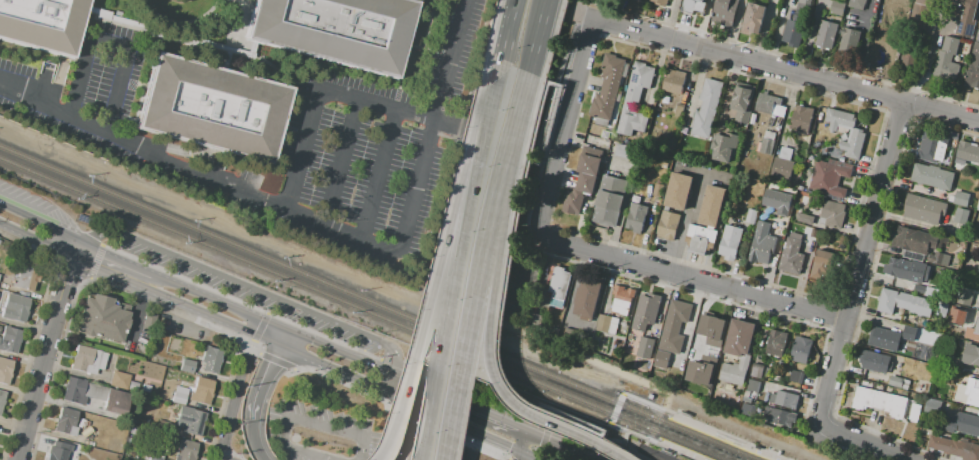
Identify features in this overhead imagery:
building: (659, 2)
building: (858, 4)
building: (803, 5)
building: (697, 6)
building: (837, 6)
building: (725, 12)
road: (576, 15)
building: (921, 15)
building: (753, 18)
building: (967, 18)
building: (883, 21)
building: (978, 21)
road: (177, 23)
building: (42, 24)
building: (896, 29)
building: (336, 30)
road: (232, 31)
building: (793, 32)
road: (512, 33)
road: (542, 35)
building: (826, 35)
building: (977, 36)
building: (849, 40)
road: (203, 41)
road: (111, 43)
building: (879, 52)
road: (859, 53)
building: (910, 54)
building: (947, 60)
road: (928, 64)
building: (973, 69)
building: (612, 72)
road: (786, 72)
building: (674, 81)
building: (635, 100)
building: (743, 101)
building: (767, 102)
building: (604, 104)
building: (680, 106)
building: (212, 108)
road: (548, 108)
building: (707, 109)
road: (414, 110)
road: (520, 112)
building: (801, 119)
road: (491, 120)
road: (567, 129)
building: (857, 136)
road: (521, 140)
building: (767, 142)
building: (816, 144)
building: (724, 147)
building: (931, 147)
building: (800, 149)
building: (625, 151)
building: (968, 152)
road: (342, 159)
building: (589, 164)
building: (782, 165)
building: (667, 167)
road: (382, 173)
building: (932, 177)
building: (829, 179)
building: (657, 190)
building: (679, 191)
building: (578, 194)
parking lot: (26, 197)
building: (961, 198)
building: (609, 200)
building: (776, 201)
building: (712, 205)
building: (923, 210)
road: (22, 213)
building: (832, 214)
building: (750, 216)
building: (961, 216)
building: (636, 217)
building: (84, 219)
building: (804, 219)
road: (322, 220)
building: (668, 225)
road: (59, 232)
building: (796, 234)
building: (700, 239)
building: (914, 241)
building: (978, 241)
building: (729, 242)
building: (762, 243)
building: (791, 257)
road: (113, 259)
building: (939, 259)
road: (862, 262)
building: (821, 264)
road: (488, 267)
building: (907, 270)
building: (25, 278)
road: (694, 278)
road: (126, 280)
road: (510, 283)
road: (247, 286)
building: (558, 287)
building: (926, 290)
parking lot: (251, 293)
building: (587, 297)
building: (964, 297)
building: (621, 300)
road: (977, 300)
railway: (376, 303)
building: (903, 303)
road: (219, 304)
building: (16, 308)
railway: (359, 309)
building: (942, 309)
building: (645, 311)
road: (176, 312)
building: (956, 316)
road: (425, 317)
road: (451, 317)
building: (103, 318)
building: (534, 319)
building: (606, 324)
building: (673, 325)
building: (976, 328)
building: (711, 329)
building: (555, 330)
building: (909, 333)
traffic signals: (260, 336)
road: (325, 337)
building: (884, 338)
road: (267, 339)
road: (283, 339)
building: (10, 340)
traffic signals: (311, 341)
road: (250, 343)
road: (494, 344)
building: (776, 344)
road: (551, 345)
building: (644, 348)
road: (46, 350)
building: (800, 350)
building: (738, 351)
building: (972, 354)
traffic signals: (275, 356)
road: (353, 358)
building: (211, 359)
building: (660, 359)
building: (88, 360)
building: (616, 360)
road: (276, 361)
building: (948, 361)
building: (874, 362)
building: (187, 366)
building: (705, 367)
building: (5, 370)
building: (901, 370)
building: (756, 371)
road: (347, 375)
building: (795, 377)
building: (119, 380)
building: (896, 381)
road: (342, 382)
road: (260, 384)
building: (132, 386)
building: (752, 386)
building: (728, 388)
building: (149, 389)
building: (74, 390)
building: (203, 391)
building: (973, 392)
building: (745, 394)
building: (179, 395)
road: (620, 396)
building: (751, 396)
building: (2, 399)
building: (783, 399)
road: (448, 400)
building: (115, 401)
building: (145, 401)
building: (880, 401)
road: (73, 405)
road: (233, 406)
traffic signals: (415, 406)
building: (931, 406)
building: (746, 408)
railway: (675, 412)
road: (405, 413)
road: (563, 413)
building: (914, 415)
building: (778, 416)
road: (460, 419)
building: (191, 420)
road: (308, 420)
building: (66, 421)
building: (81, 423)
building: (87, 423)
road: (412, 423)
building: (967, 424)
road: (504, 425)
road: (748, 426)
building: (131, 430)
road: (470, 430)
road: (714, 431)
parking lot: (324, 432)
road: (432, 436)
road: (465, 436)
railway: (664, 438)
building: (128, 440)
road: (606, 440)
road: (863, 441)
traffic signals: (549, 442)
road: (254, 443)
road: (543, 444)
parking lot: (445, 445)
road: (529, 446)
traffic signals: (503, 447)
road: (562, 447)
building: (954, 447)
building: (186, 450)
building: (58, 451)
road: (675, 451)
road: (415, 452)
parking lot: (659, 455)
building: (146, 457)
building: (154, 458)
road: (511, 458)
road: (524, 458)
road: (527, 458)
road: (616, 459)

